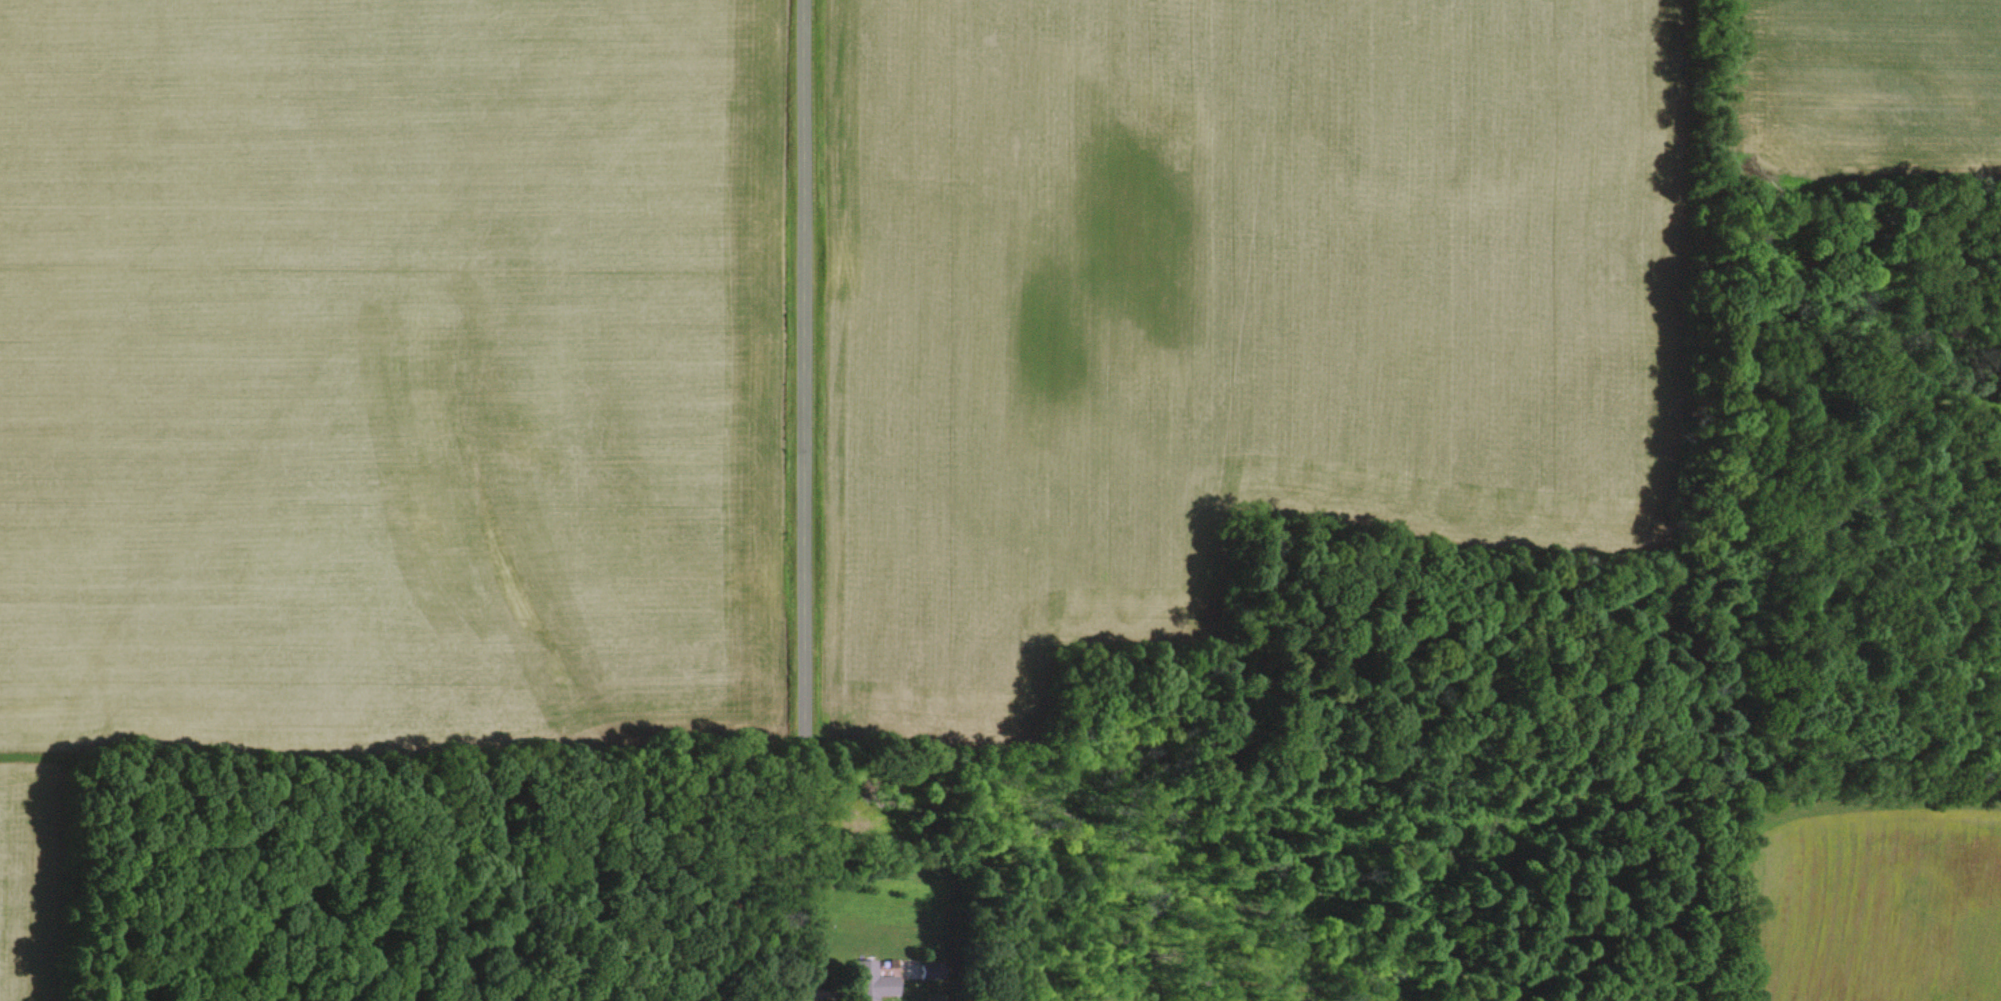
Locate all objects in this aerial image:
road: (802, 500)

